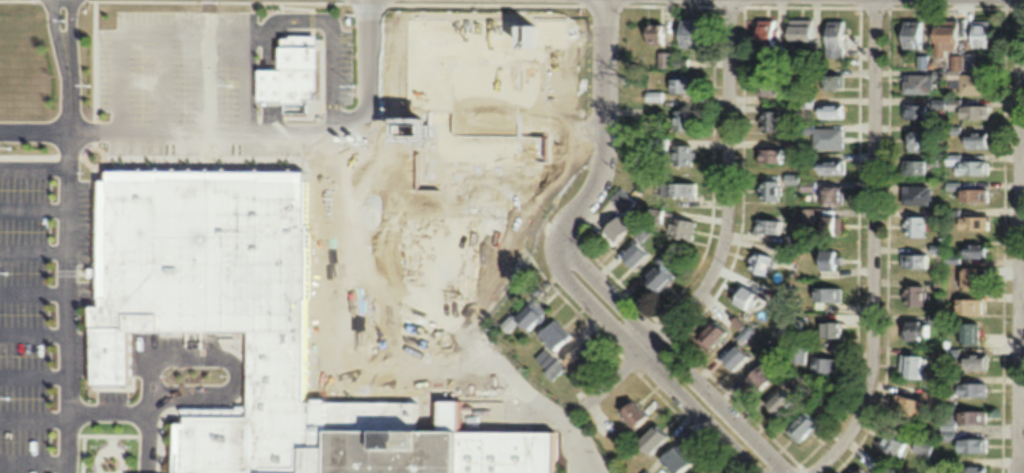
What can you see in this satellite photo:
road: (183, 24)
road: (256, 24)
building: (799, 28)
building: (688, 31)
building: (654, 32)
building: (765, 32)
building: (911, 33)
building: (979, 33)
building: (944, 35)
building: (834, 37)
road: (330, 40)
road: (65, 42)
road: (55, 43)
building: (298, 54)
building: (671, 60)
building: (956, 60)
building: (923, 61)
road: (367, 65)
building: (270, 71)
road: (163, 77)
road: (204, 77)
road: (269, 77)
building: (831, 80)
building: (917, 82)
building: (683, 83)
building: (974, 83)
building: (769, 84)
building: (654, 96)
building: (807, 101)
road: (66, 108)
building: (830, 110)
building: (915, 110)
building: (973, 110)
building: (683, 120)
building: (769, 120)
road: (33, 130)
road: (217, 131)
road: (487, 132)
road: (604, 136)
building: (828, 138)
building: (975, 139)
building: (913, 140)
building: (658, 146)
building: (684, 154)
building: (768, 155)
road: (33, 159)
building: (960, 163)
building: (829, 166)
building: (913, 166)
building: (792, 178)
building: (808, 185)
building: (682, 189)
building: (770, 190)
building: (830, 193)
building: (916, 194)
building: (973, 195)
building: (623, 200)
road: (32, 201)
building: (945, 214)
building: (657, 215)
building: (809, 215)
building: (977, 222)
building: (829, 225)
building: (768, 226)
building: (913, 227)
building: (681, 228)
building: (614, 229)
road: (726, 231)
building: (644, 233)
road: (1020, 236)
road: (32, 244)
road: (871, 246)
building: (973, 250)
building: (633, 254)
building: (827, 259)
building: (914, 261)
building: (760, 263)
building: (966, 277)
building: (658, 278)
road: (32, 284)
building: (827, 294)
building: (744, 295)
building: (913, 295)
road: (64, 302)
building: (967, 305)
building: (217, 306)
building: (528, 316)
building: (794, 323)
road: (32, 327)
building: (830, 328)
building: (915, 329)
building: (967, 332)
building: (746, 333)
building: (710, 334)
building: (551, 345)
building: (799, 352)
building: (577, 355)
building: (735, 357)
building: (971, 360)
road: (680, 363)
building: (825, 365)
road: (32, 366)
building: (911, 366)
road: (656, 371)
building: (758, 376)
building: (970, 388)
building: (788, 394)
building: (907, 406)
building: (629, 409)
road: (32, 412)
road: (145, 413)
building: (970, 416)
building: (801, 425)
building: (651, 439)
building: (891, 442)
building: (969, 444)
building: (390, 445)
building: (923, 445)
building: (501, 451)
road: (31, 455)
building: (674, 458)
building: (971, 468)
building: (857, 470)

